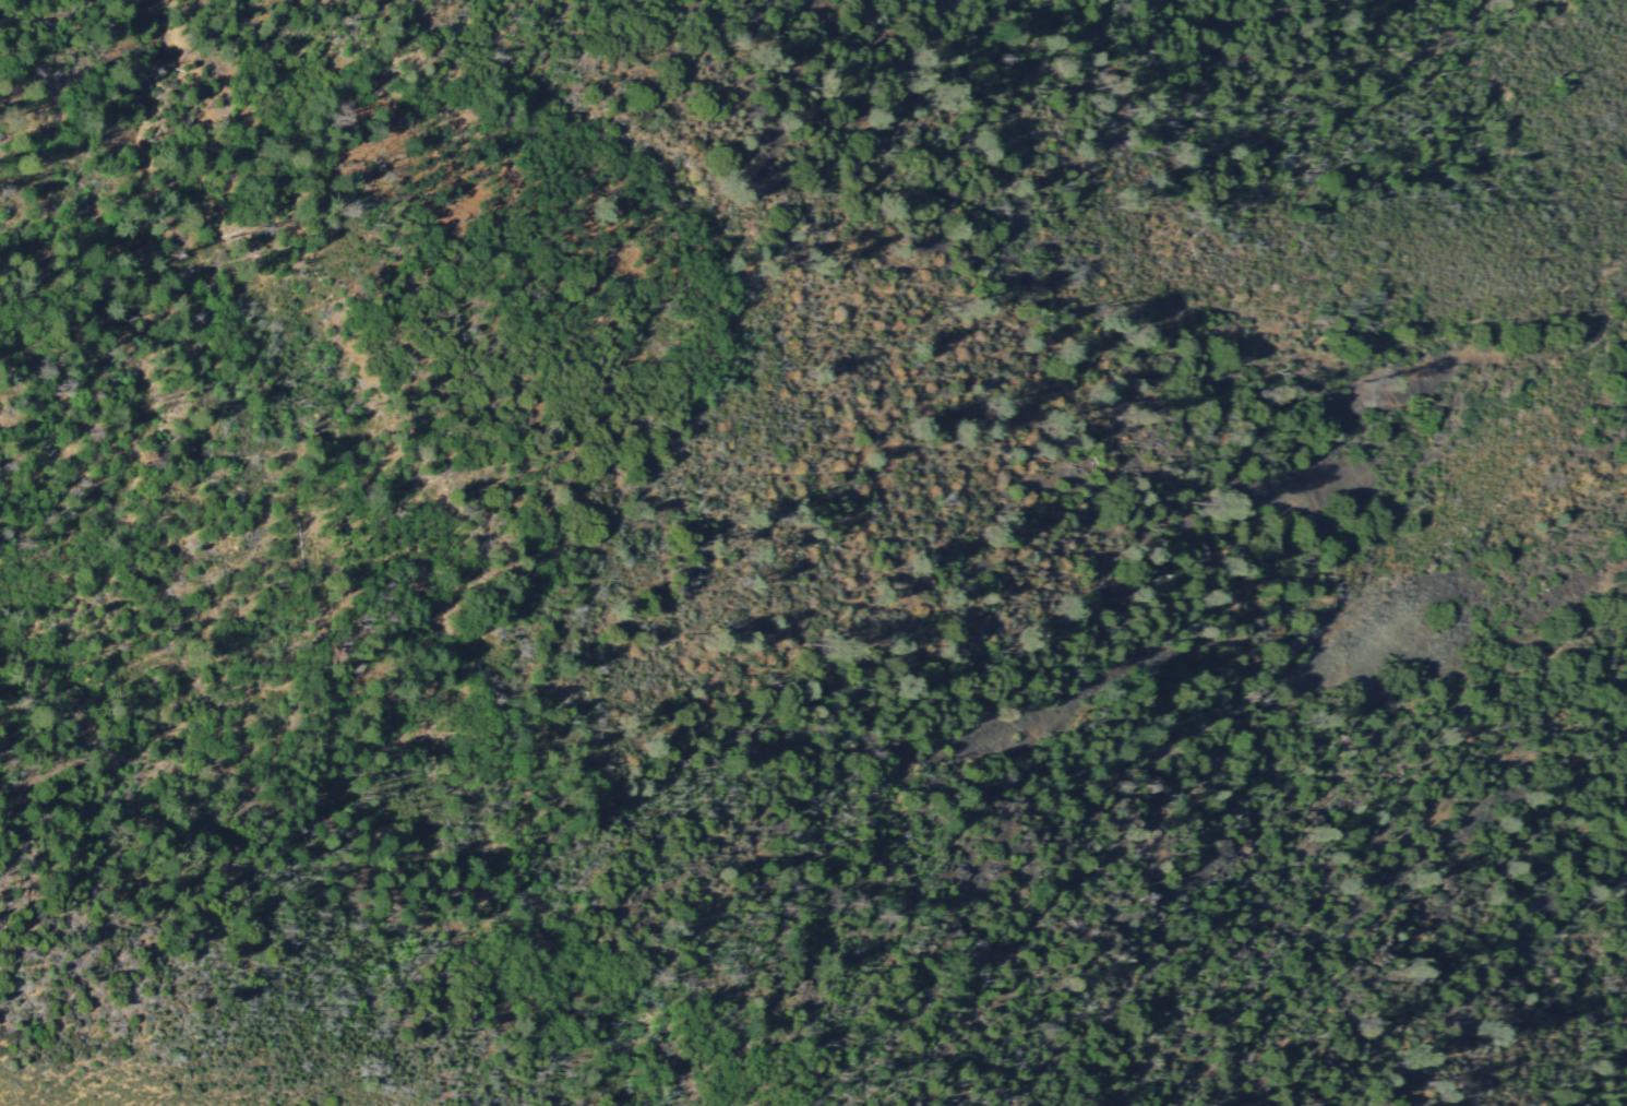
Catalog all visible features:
road: (110, 1082)

